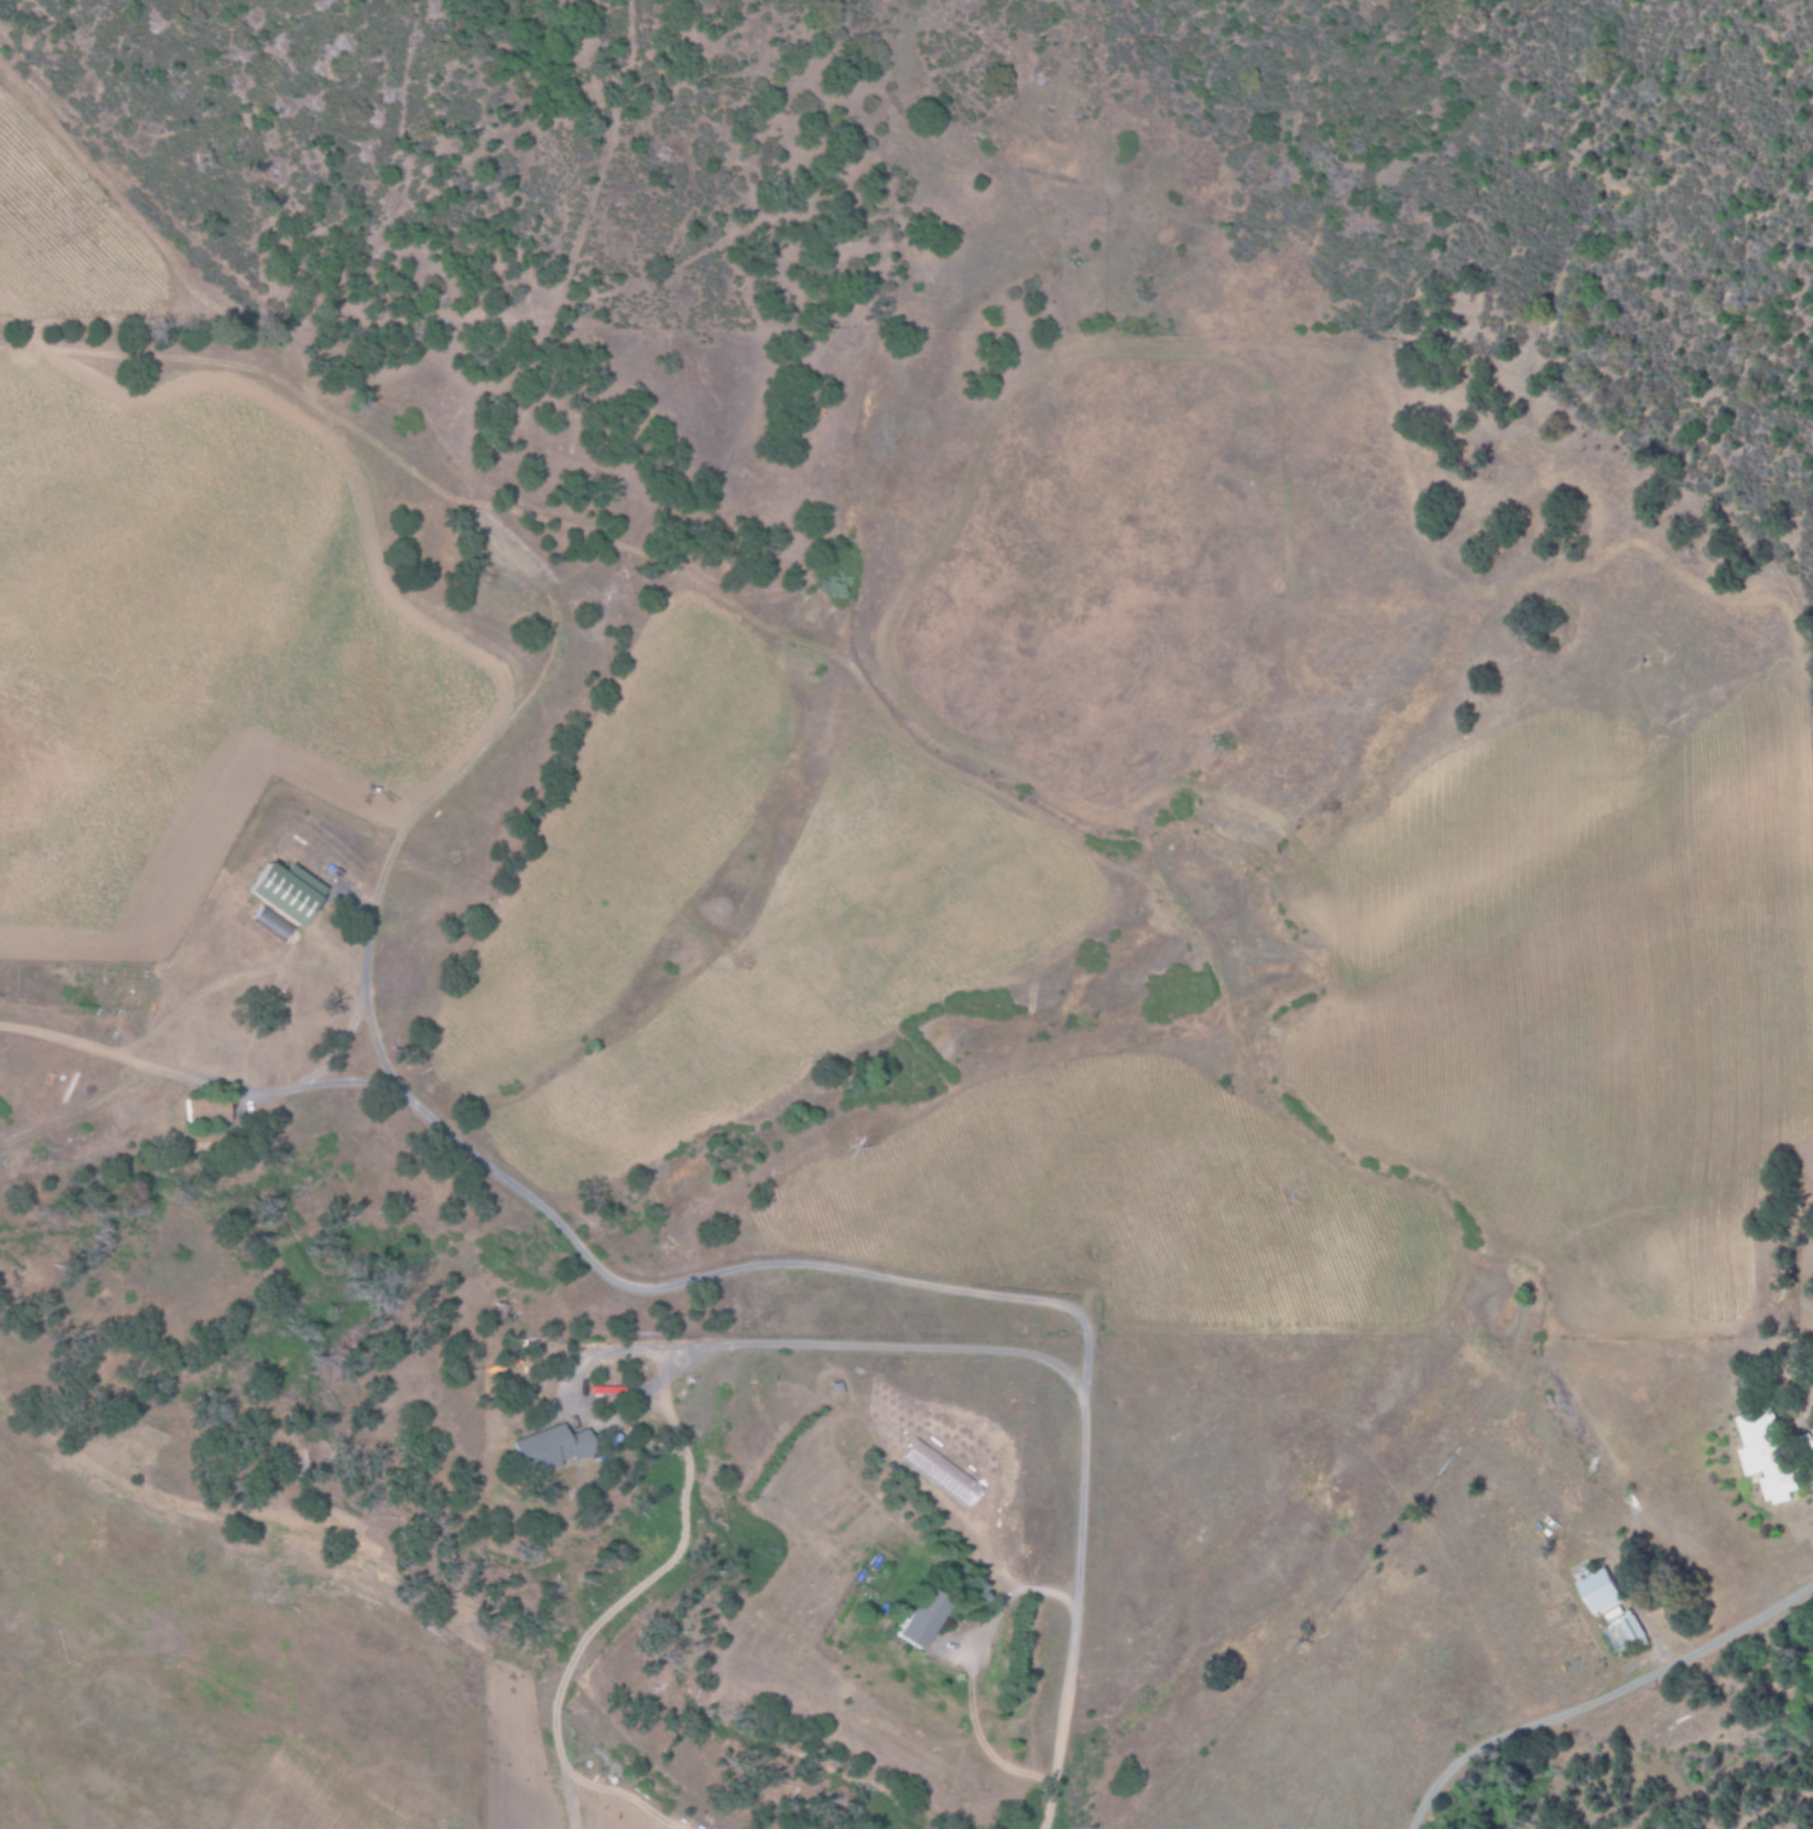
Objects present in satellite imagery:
building: (285, 892)
building: (270, 924)
road: (200, 1080)
building: (205, 1111)
road: (850, 1263)
road: (740, 1334)
building: (549, 1449)
building: (1766, 1455)
building: (939, 1474)
building: (1602, 1592)
building: (921, 1620)
building: (1625, 1635)
road: (1591, 1683)

